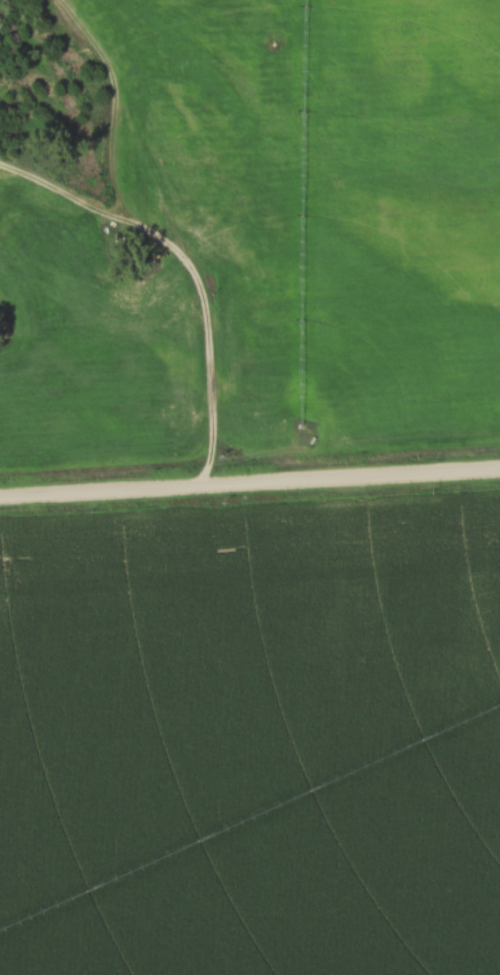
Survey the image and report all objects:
road: (250, 488)

